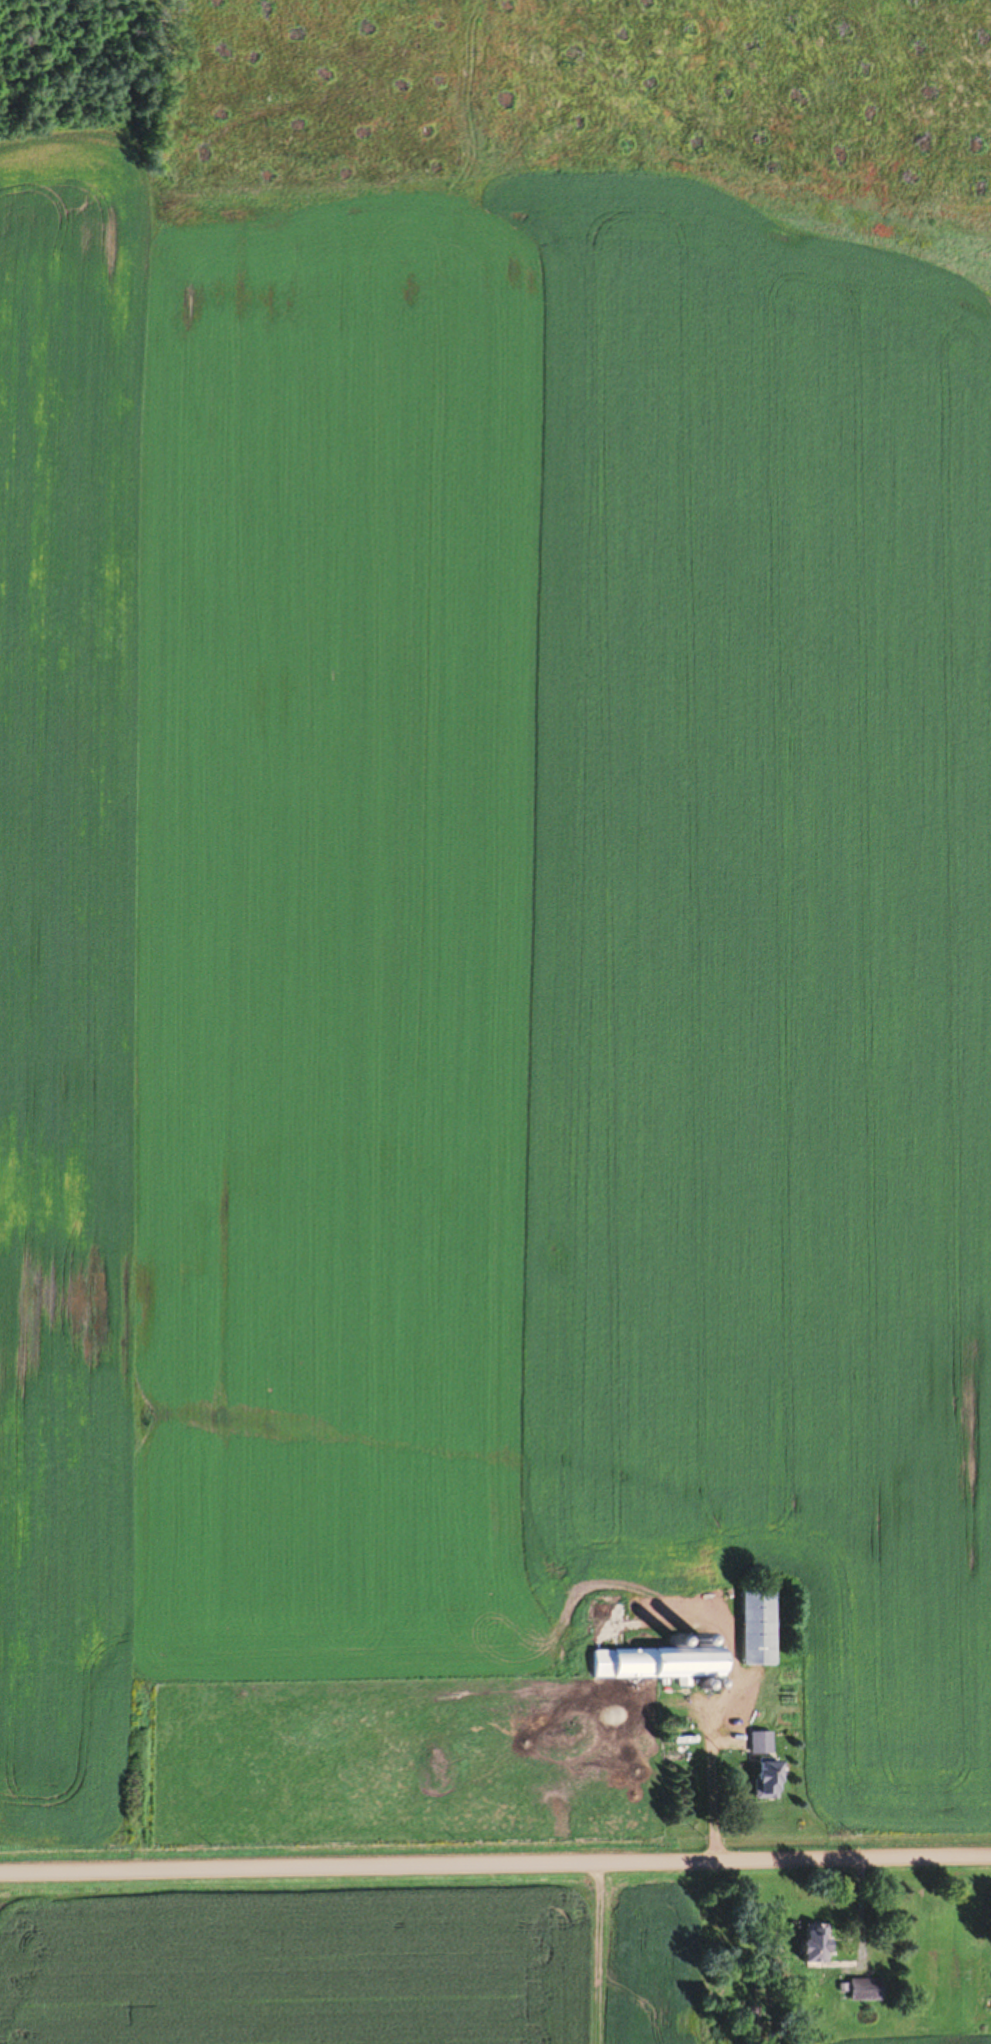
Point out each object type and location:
building: (756, 1626)
building: (655, 1661)
building: (760, 1740)
building: (766, 1777)
road: (495, 1863)
building: (863, 1988)

